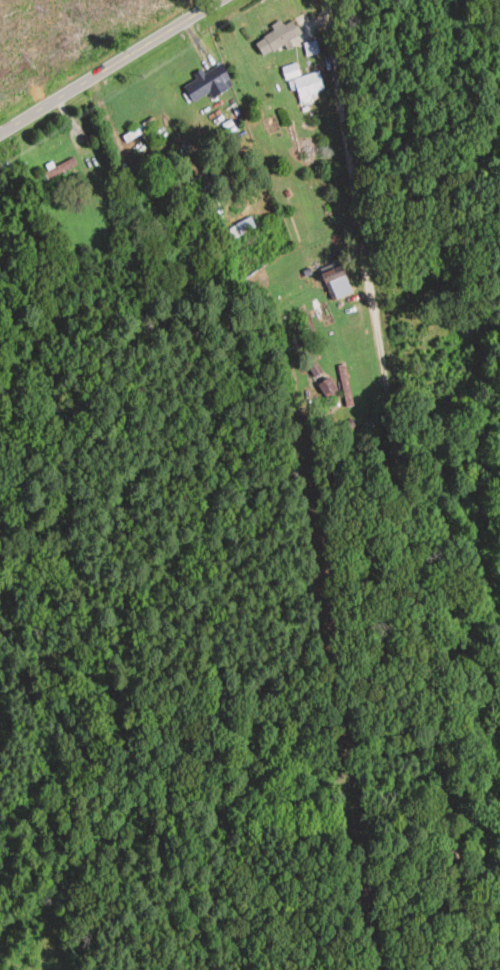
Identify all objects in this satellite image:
building: (277, 37)
road: (111, 67)
building: (208, 83)
building: (303, 84)
building: (139, 131)
building: (60, 168)
building: (179, 227)
building: (241, 227)
building: (337, 284)
building: (345, 385)
building: (328, 388)
road: (399, 485)

